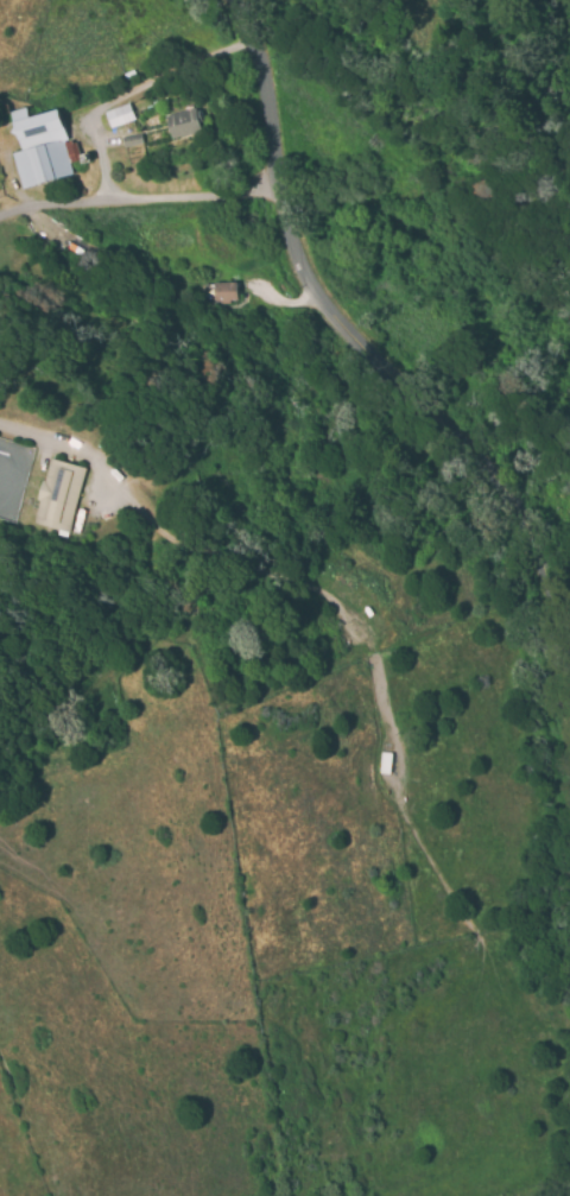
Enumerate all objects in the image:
building: (128, 74)
building: (119, 115)
building: (184, 122)
building: (132, 139)
building: (40, 147)
building: (223, 292)
road: (373, 356)
building: (58, 495)

